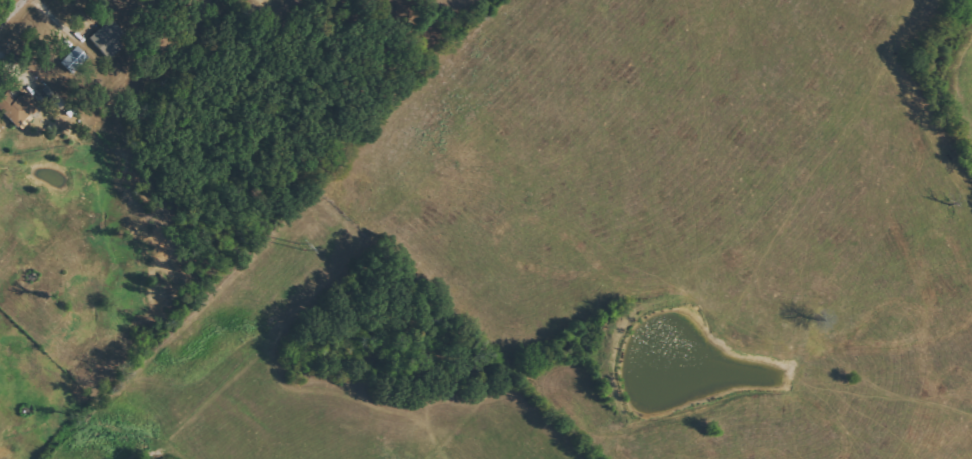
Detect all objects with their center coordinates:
road: (13, 13)
building: (110, 38)
building: (75, 59)
building: (59, 101)
building: (19, 107)

